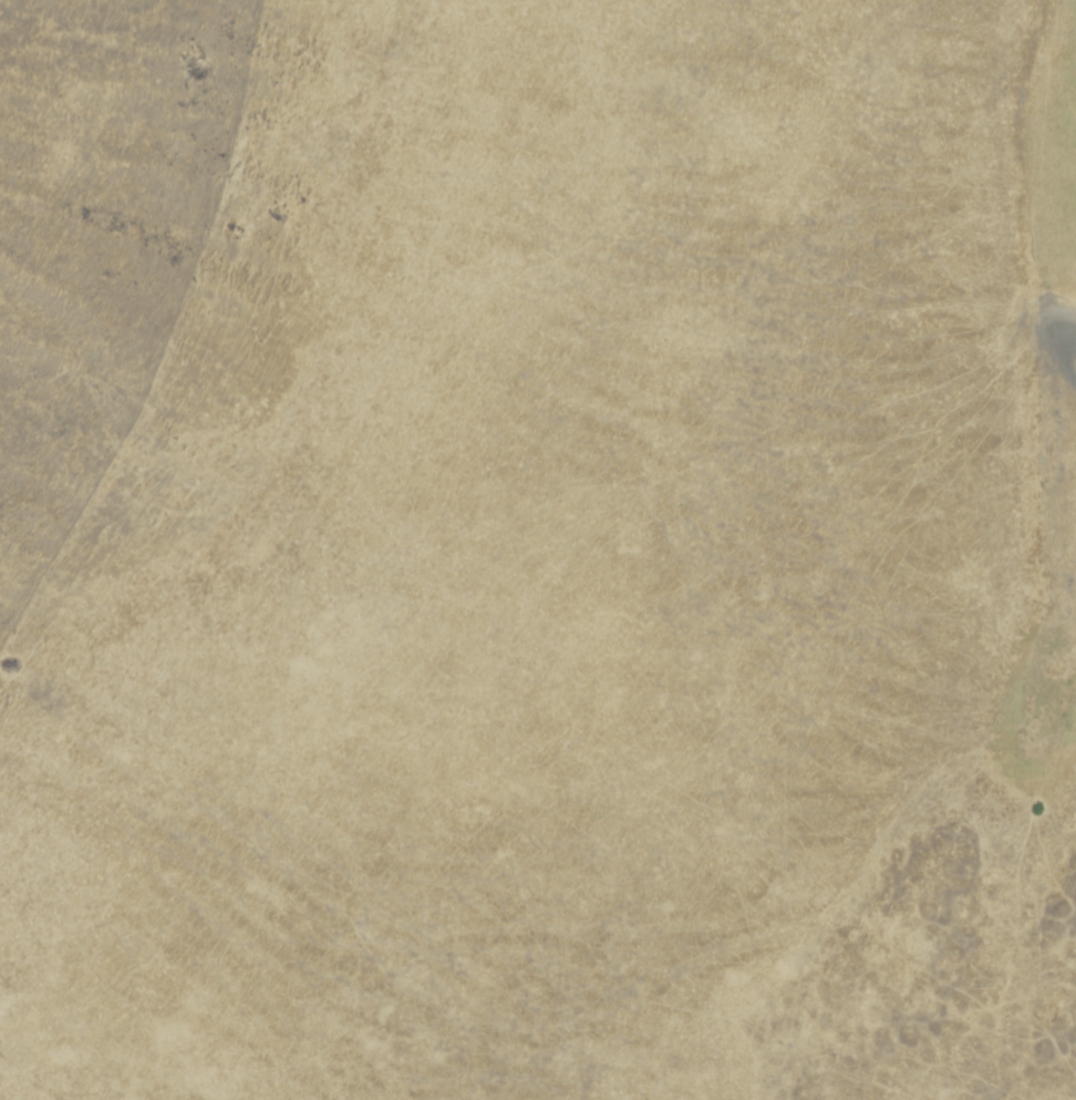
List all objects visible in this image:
crop: (991, 715)

